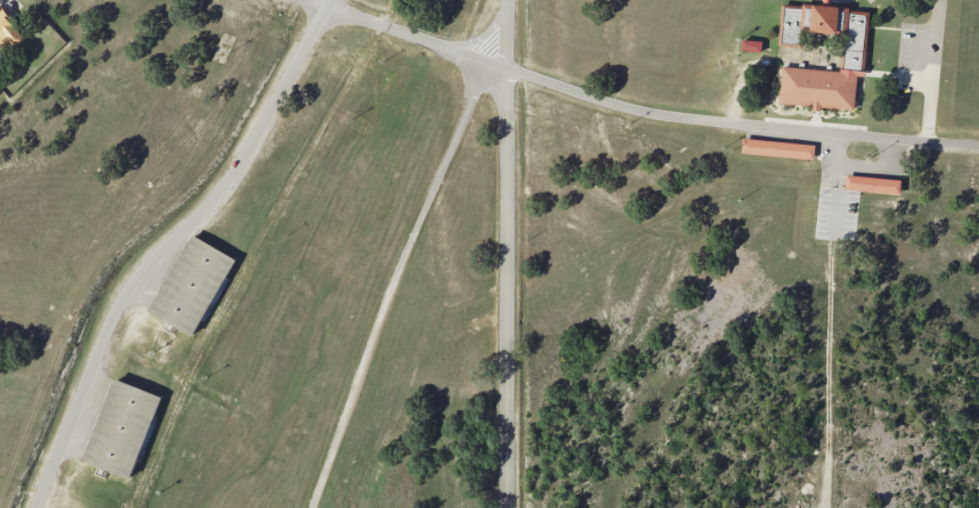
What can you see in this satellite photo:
building: (8, 33)
building: (751, 45)
building: (854, 56)
road: (937, 72)
road: (635, 110)
building: (778, 148)
road: (859, 169)
building: (873, 184)
road: (165, 244)
road: (407, 252)
road: (509, 253)
building: (192, 285)
building: (122, 428)

